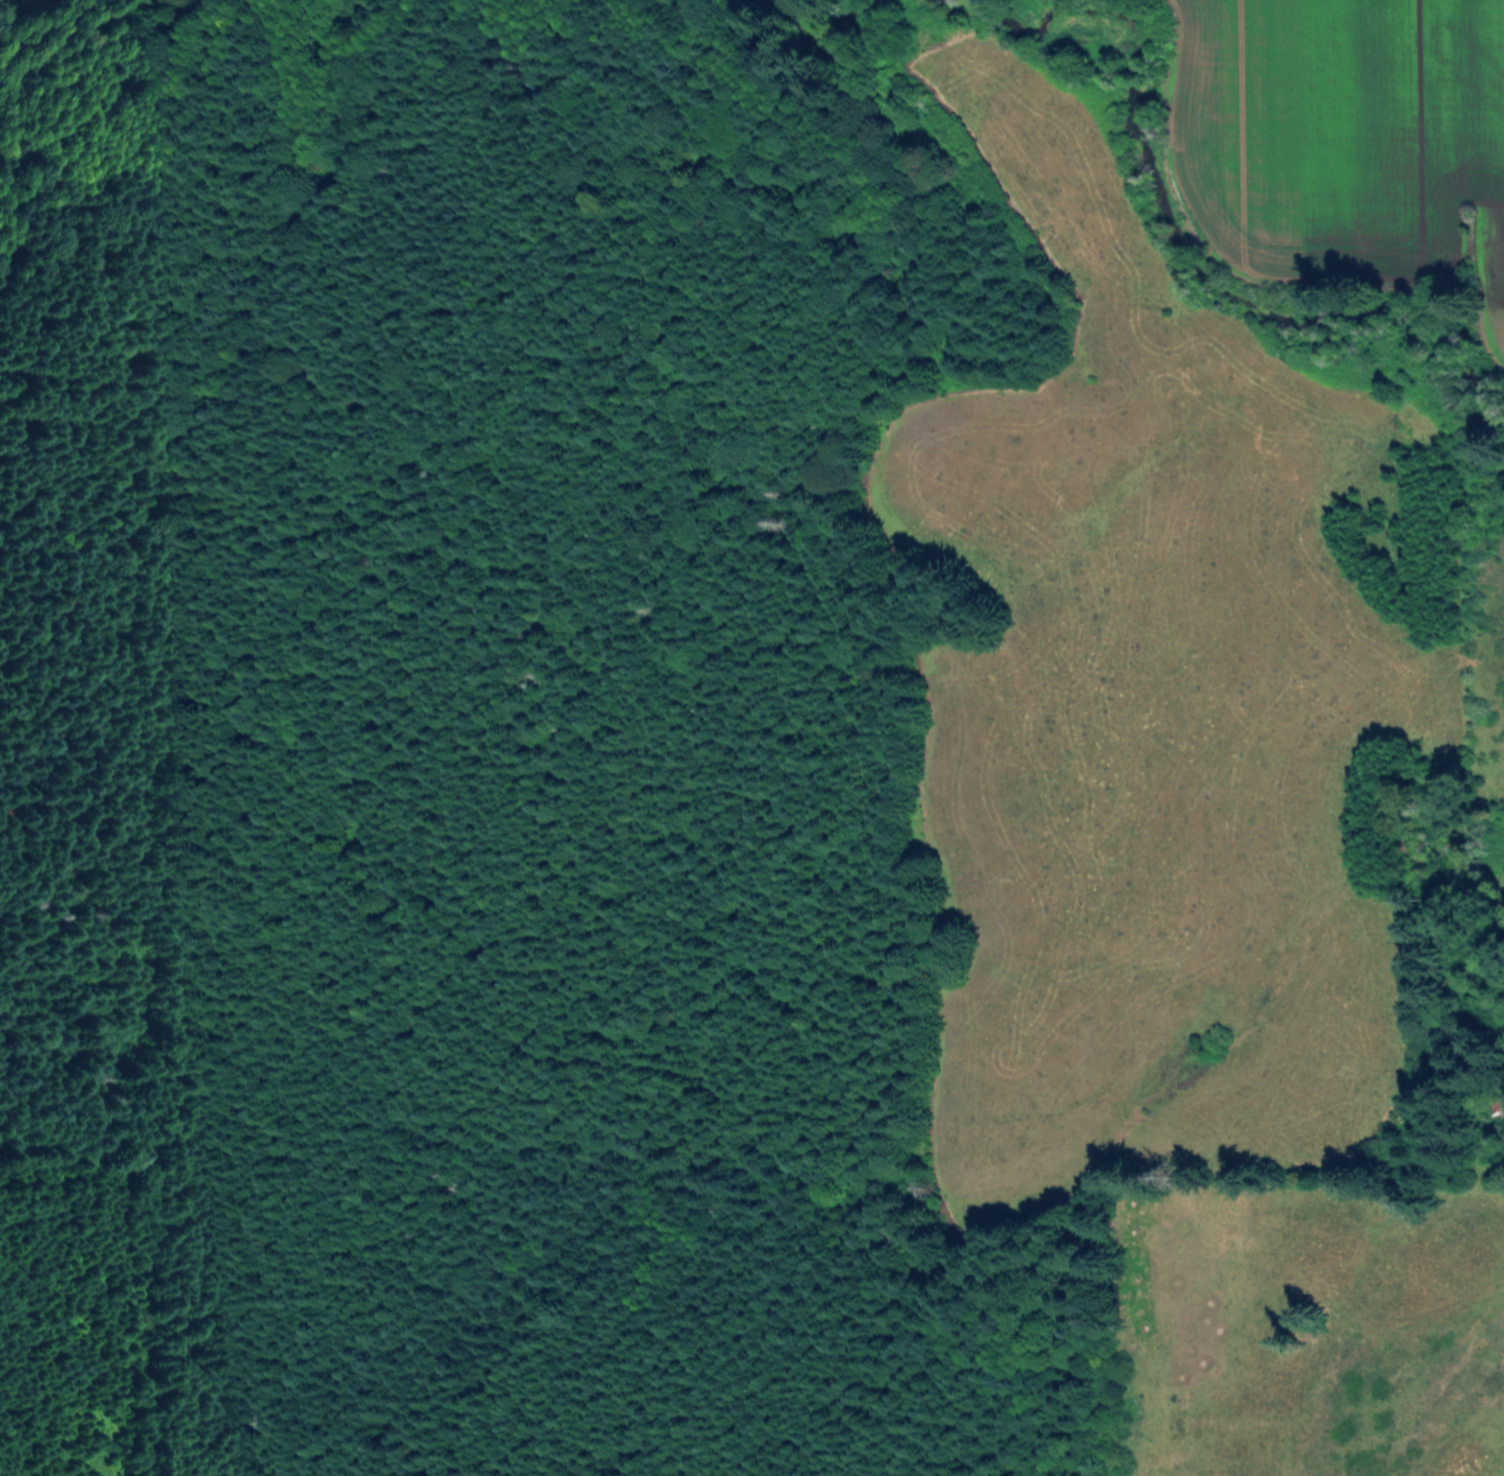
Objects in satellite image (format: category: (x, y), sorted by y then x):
crop: (1152, 140)

